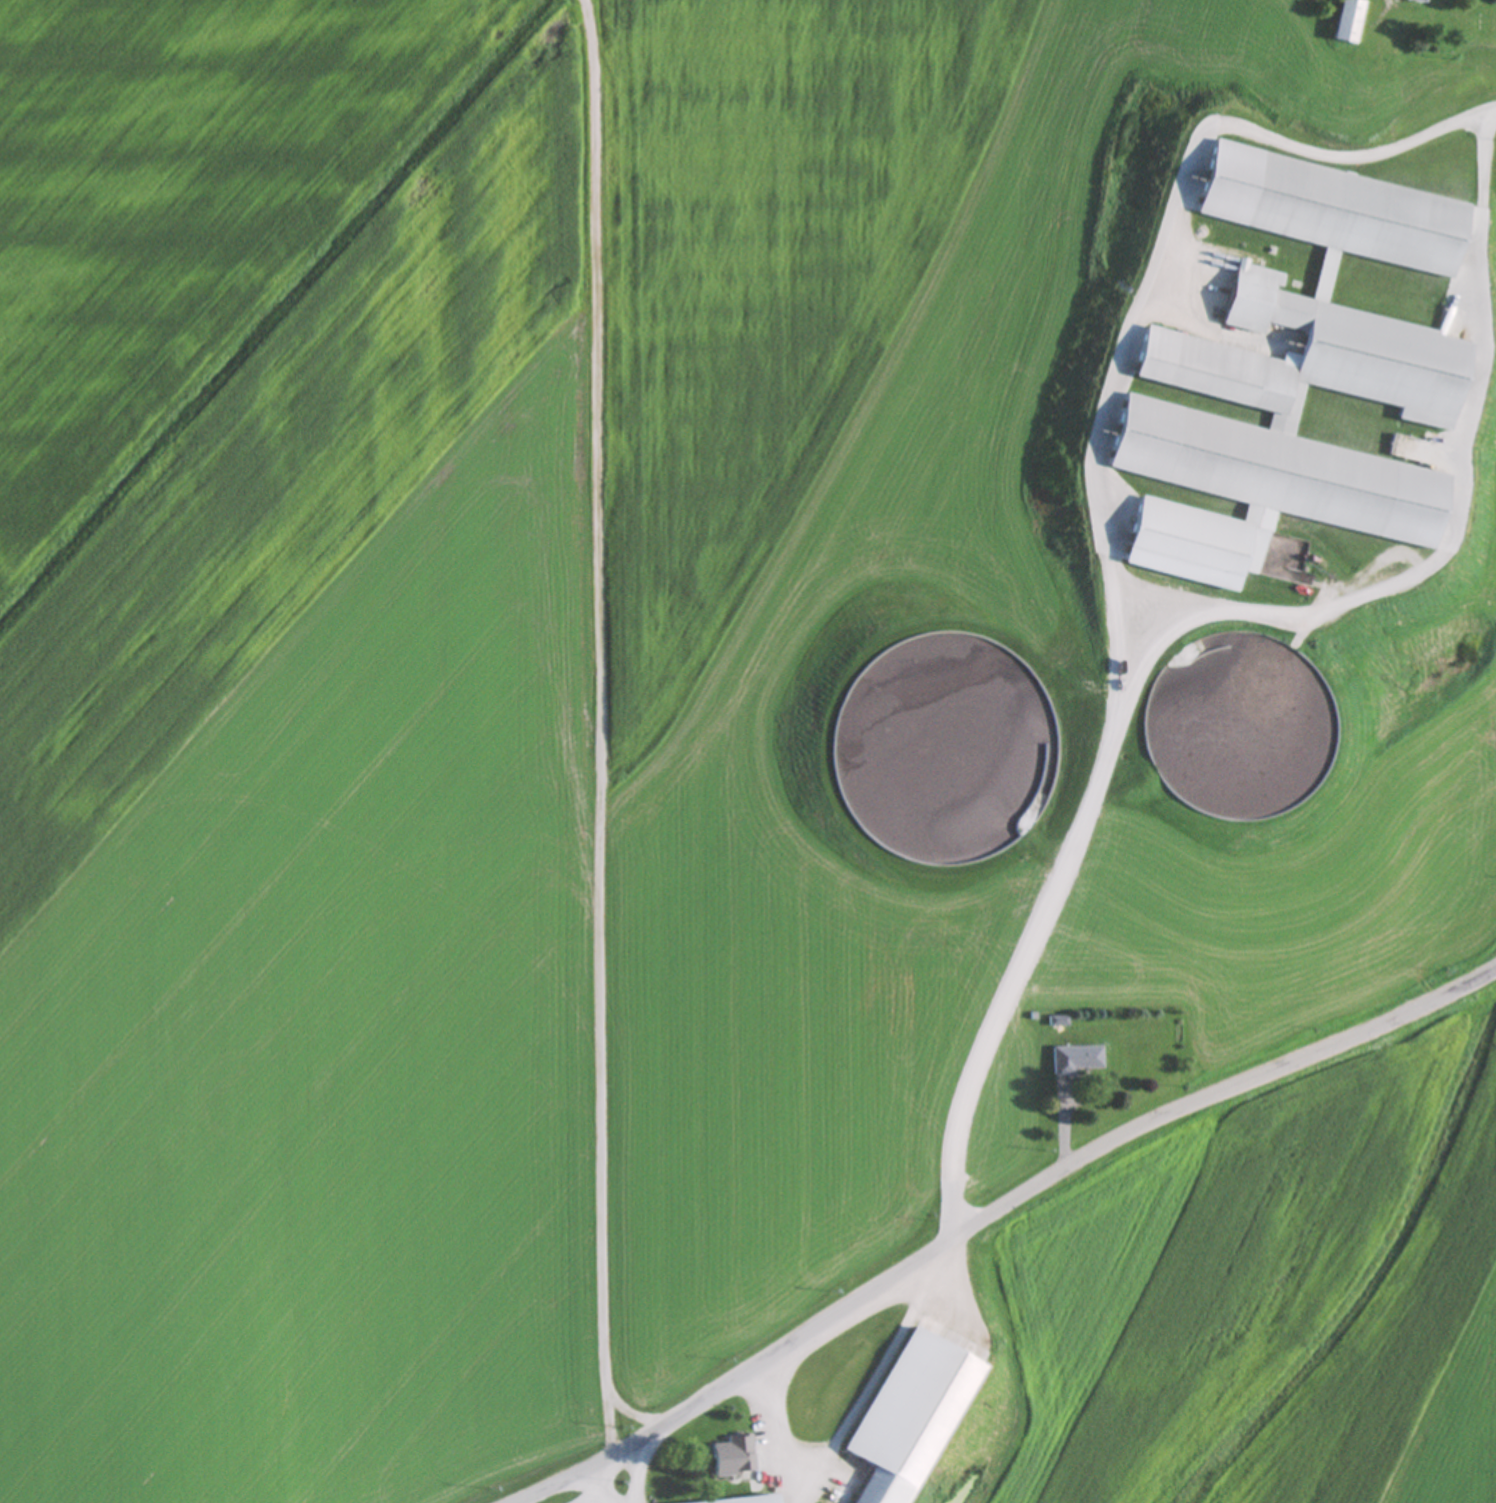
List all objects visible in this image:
building: (1418, 0)
building: (1349, 21)
building: (1334, 89)
building: (1306, 356)
road: (1449, 500)
road: (1099, 539)
building: (1260, 551)
building: (1272, 795)
road: (1494, 992)
building: (1057, 1021)
building: (1076, 1060)
road: (1005, 1217)
building: (904, 1416)
road: (774, 1438)
building: (735, 1457)
road: (635, 1477)
road: (605, 1483)
building: (805, 1488)
road: (609, 1495)
building: (745, 1501)

